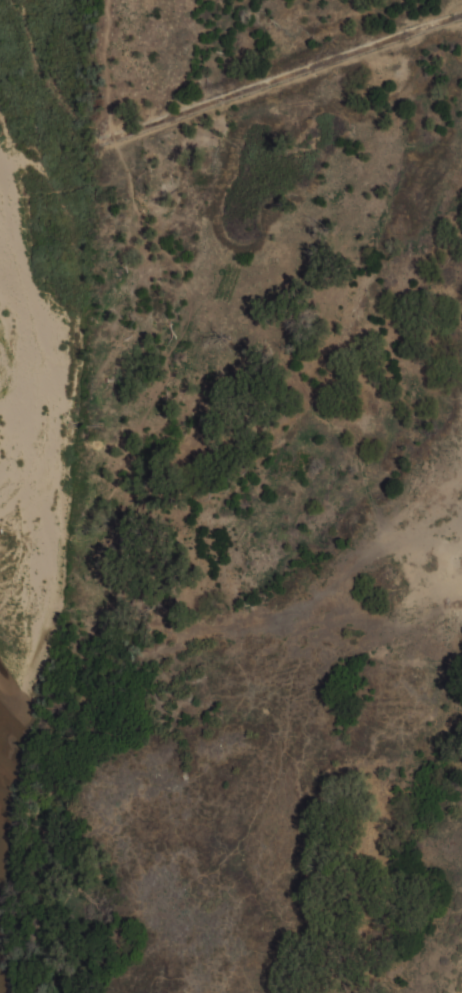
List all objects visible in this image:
road: (104, 65)
road: (113, 135)
road: (107, 563)

